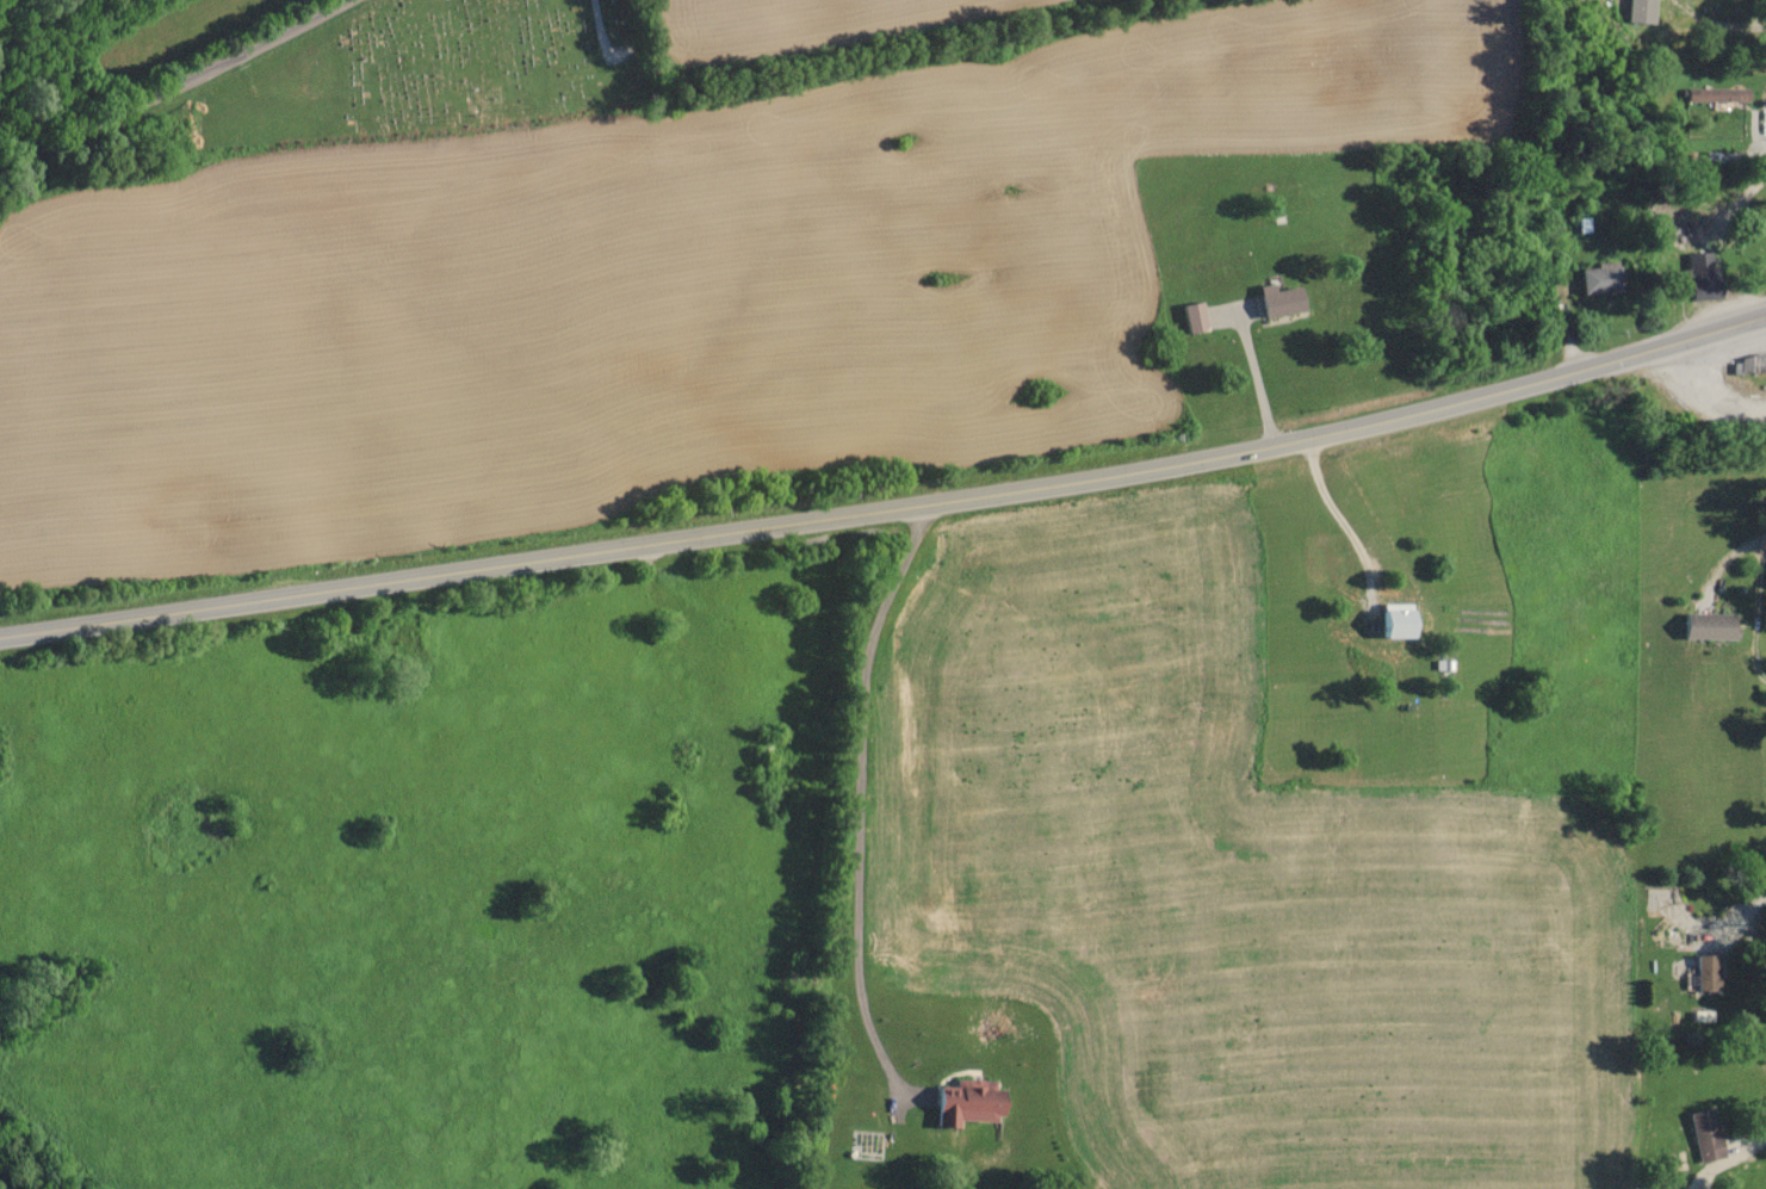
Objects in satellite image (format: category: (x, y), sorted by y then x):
park: (411, 73)
road: (172, 85)
building: (1709, 94)
building: (1694, 277)
building: (1594, 279)
building: (1272, 301)
building: (1188, 317)
building: (1748, 364)
road: (888, 512)
building: (1389, 620)
building: (1711, 627)
building: (1708, 973)
building: (971, 1104)
building: (1706, 1135)

